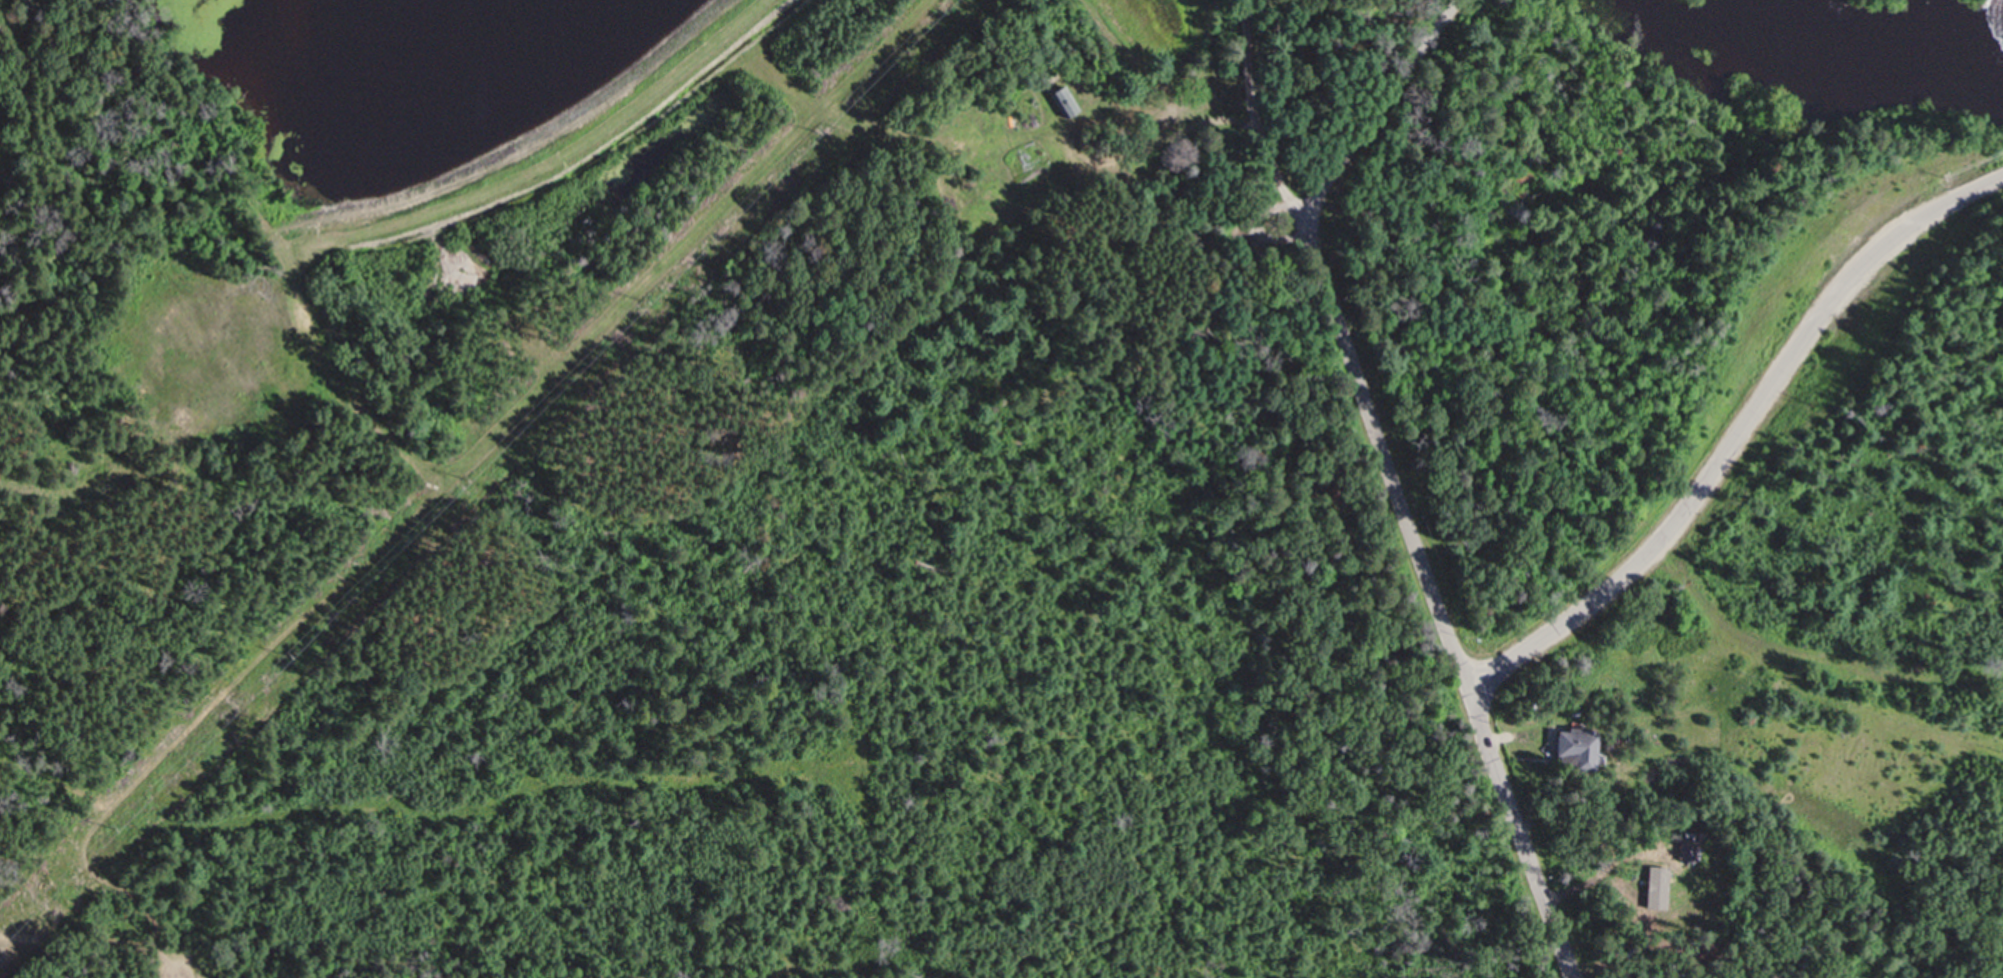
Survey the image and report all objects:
river: (1859, 44)
road: (1320, 55)
road: (1252, 93)
building: (1062, 99)
road: (1382, 105)
power tower: (819, 129)
road: (1305, 169)
road: (1289, 175)
road: (1298, 199)
parking lot: (1249, 228)
road: (1259, 230)
power tower: (650, 297)
road: (1387, 453)
power tower: (470, 478)
road: (1647, 554)
power tower: (291, 658)
building: (1573, 752)
power tower: (119, 829)
road: (183, 973)

